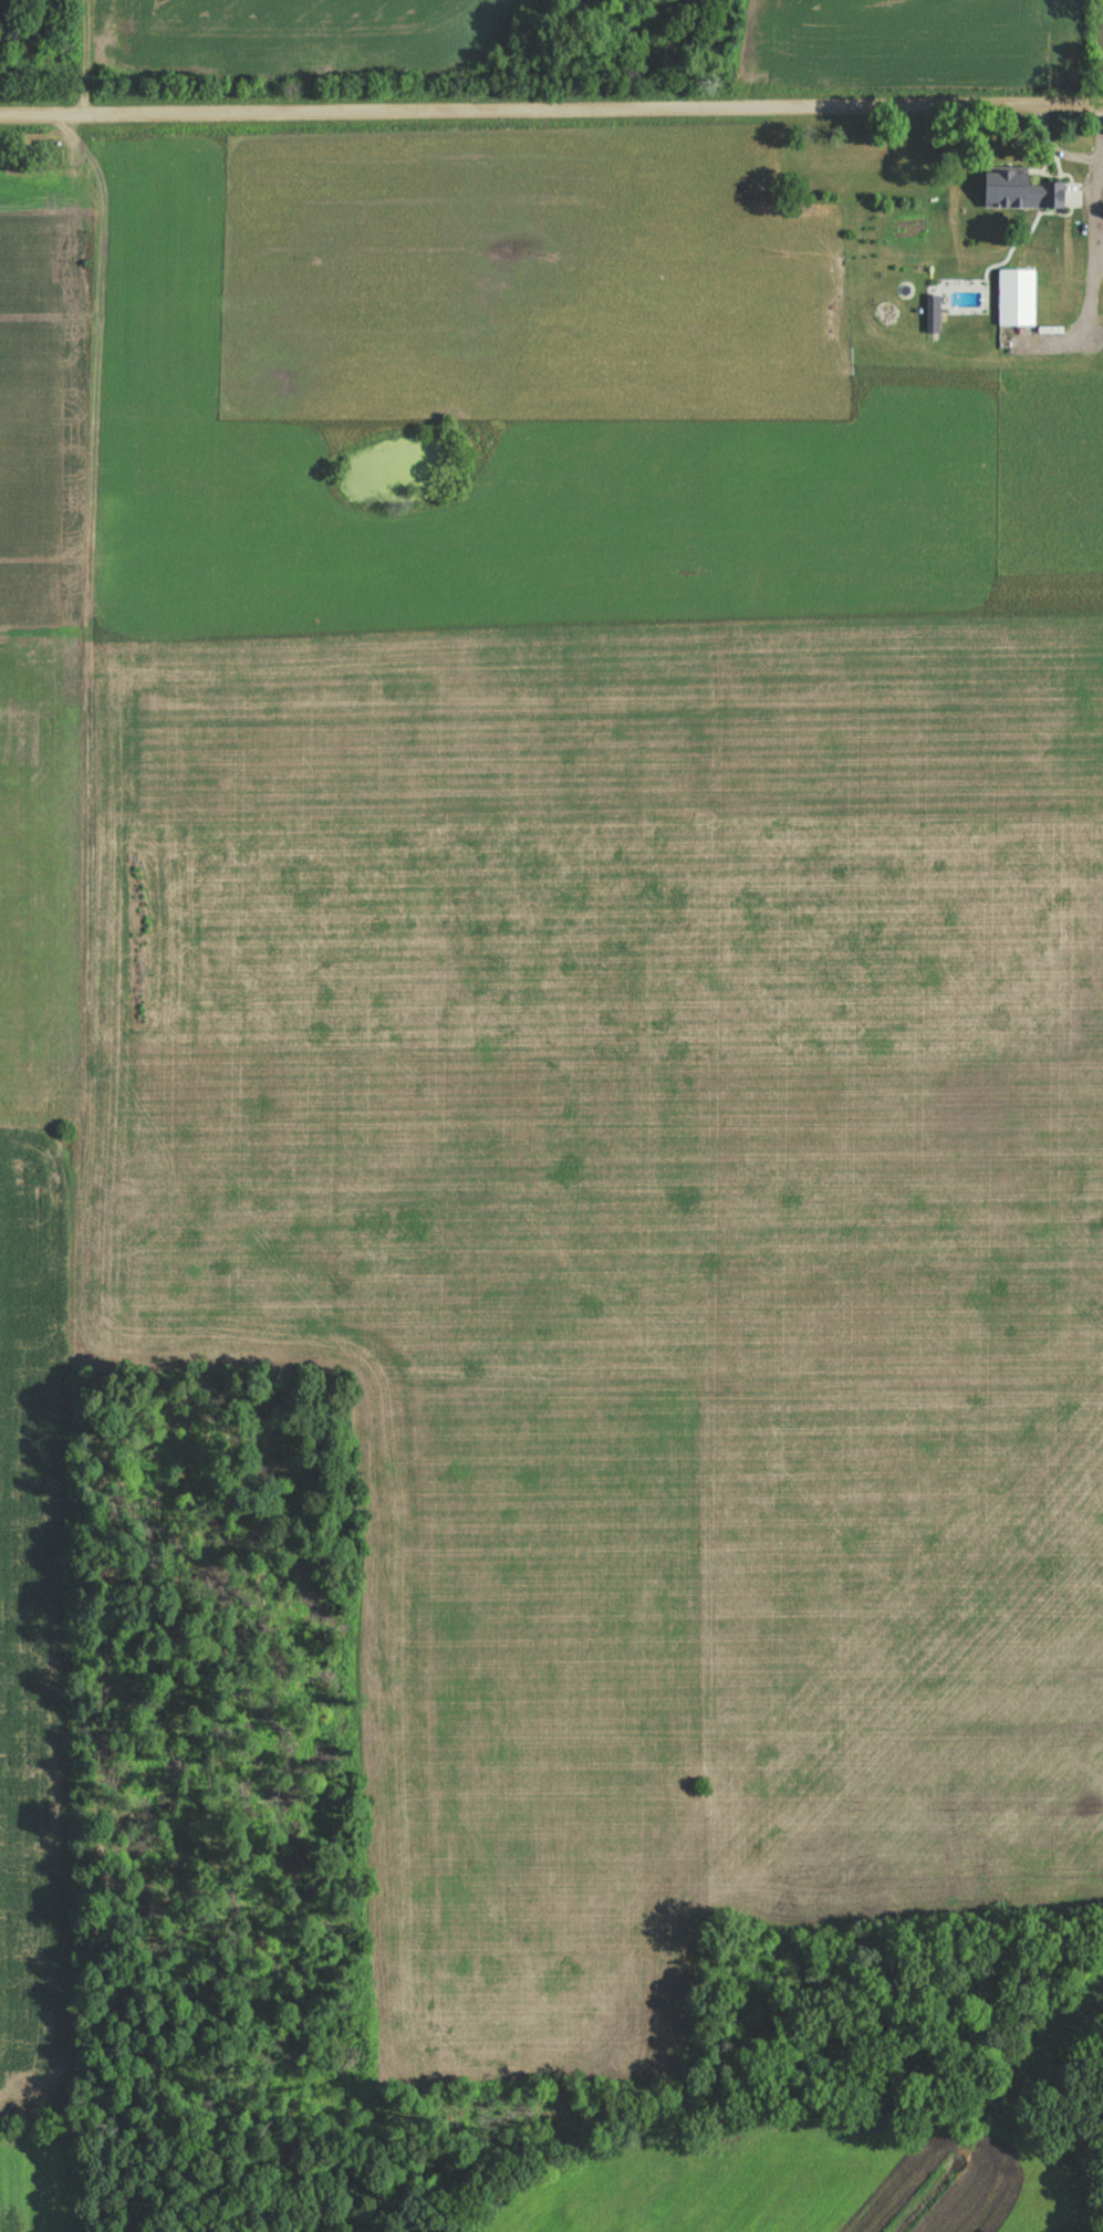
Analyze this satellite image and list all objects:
road: (83, 58)
road: (551, 113)
building: (1018, 301)

